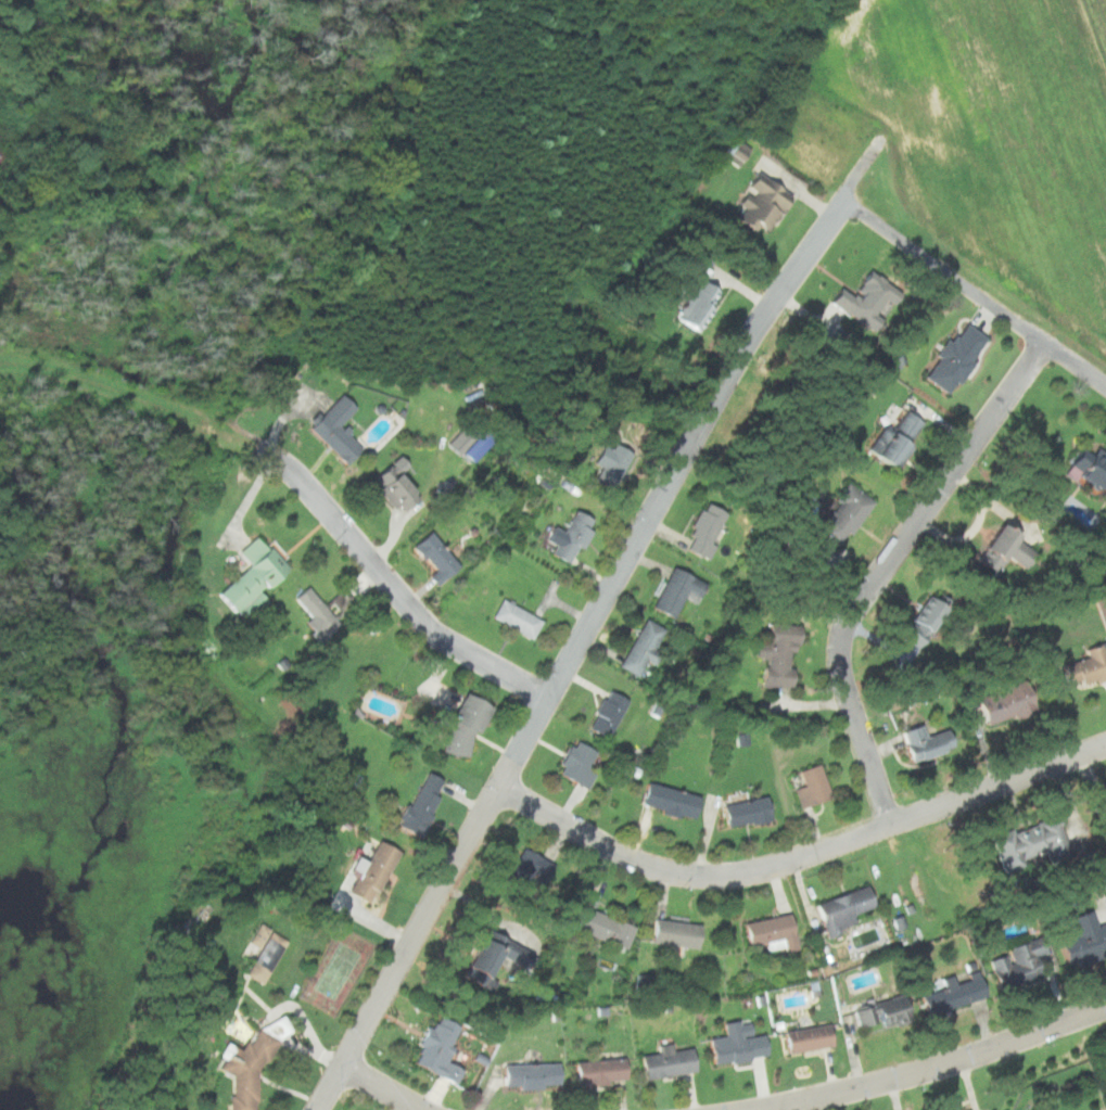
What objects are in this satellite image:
building: (737, 151)
building: (765, 163)
building: (757, 204)
road: (974, 291)
building: (857, 299)
building: (696, 306)
building: (952, 357)
building: (903, 422)
building: (331, 428)
building: (881, 447)
building: (469, 449)
building: (606, 464)
building: (1086, 469)
building: (390, 486)
building: (840, 513)
building: (702, 530)
building: (569, 536)
building: (999, 550)
building: (437, 556)
building: (256, 561)
road: (888, 571)
road: (396, 588)
building: (674, 590)
building: (310, 613)
building: (519, 618)
road: (597, 621)
building: (914, 630)
building: (1086, 640)
building: (638, 647)
building: (771, 659)
building: (1001, 702)
building: (602, 713)
building: (458, 726)
building: (918, 741)
building: (577, 763)
building: (806, 784)
building: (1105, 787)
building: (663, 799)
building: (417, 802)
building: (743, 809)
building: (1028, 842)
road: (802, 860)
building: (366, 870)
building: (520, 871)
building: (839, 907)
building: (596, 927)
building: (766, 931)
building: (670, 932)
building: (1079, 937)
building: (264, 952)
building: (487, 956)
building: (1013, 964)
building: (948, 993)
building: (878, 1011)
building: (276, 1028)
building: (802, 1038)
building: (733, 1043)
building: (431, 1056)
building: (662, 1062)
road: (932, 1066)
building: (245, 1069)
building: (595, 1070)
building: (525, 1074)
road: (387, 1088)
building: (957, 1109)

